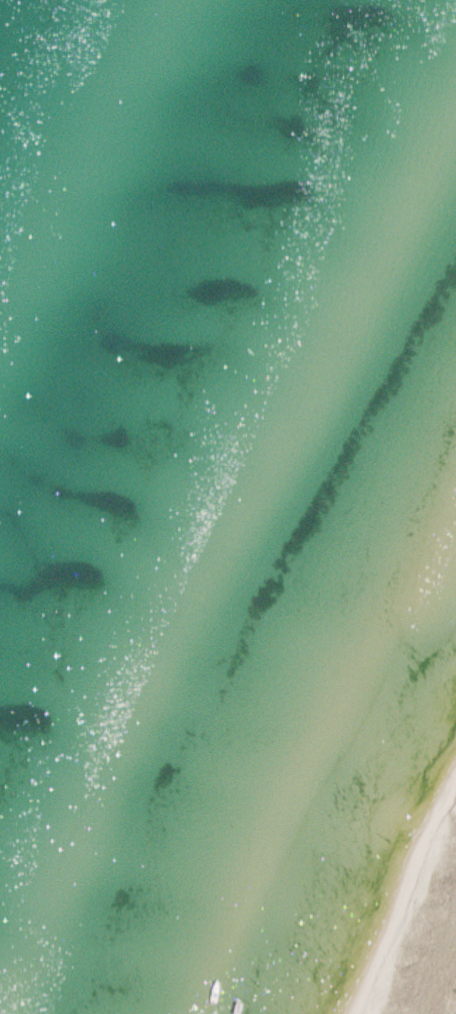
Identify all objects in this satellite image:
park: (373, 857)

